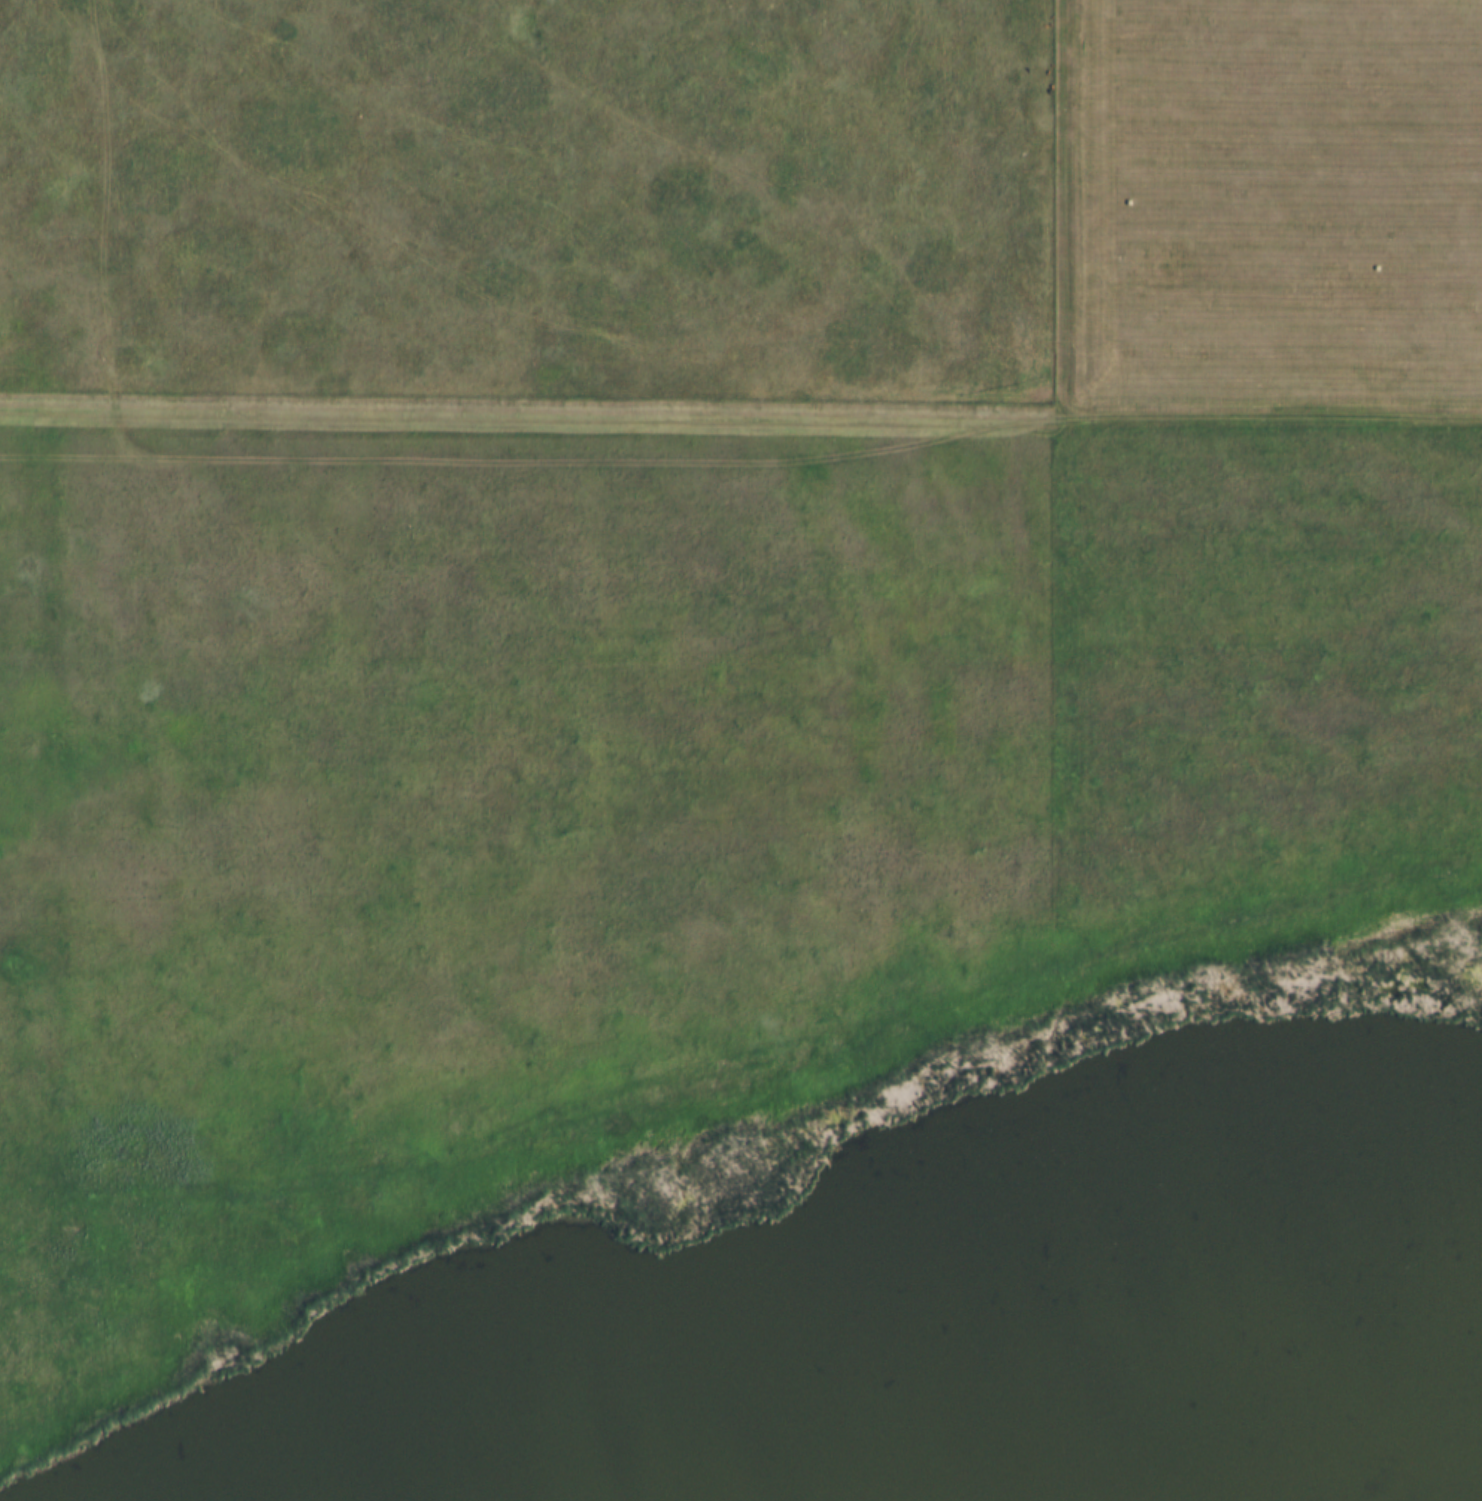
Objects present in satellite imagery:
road: (1063, 208)
road: (1272, 417)

